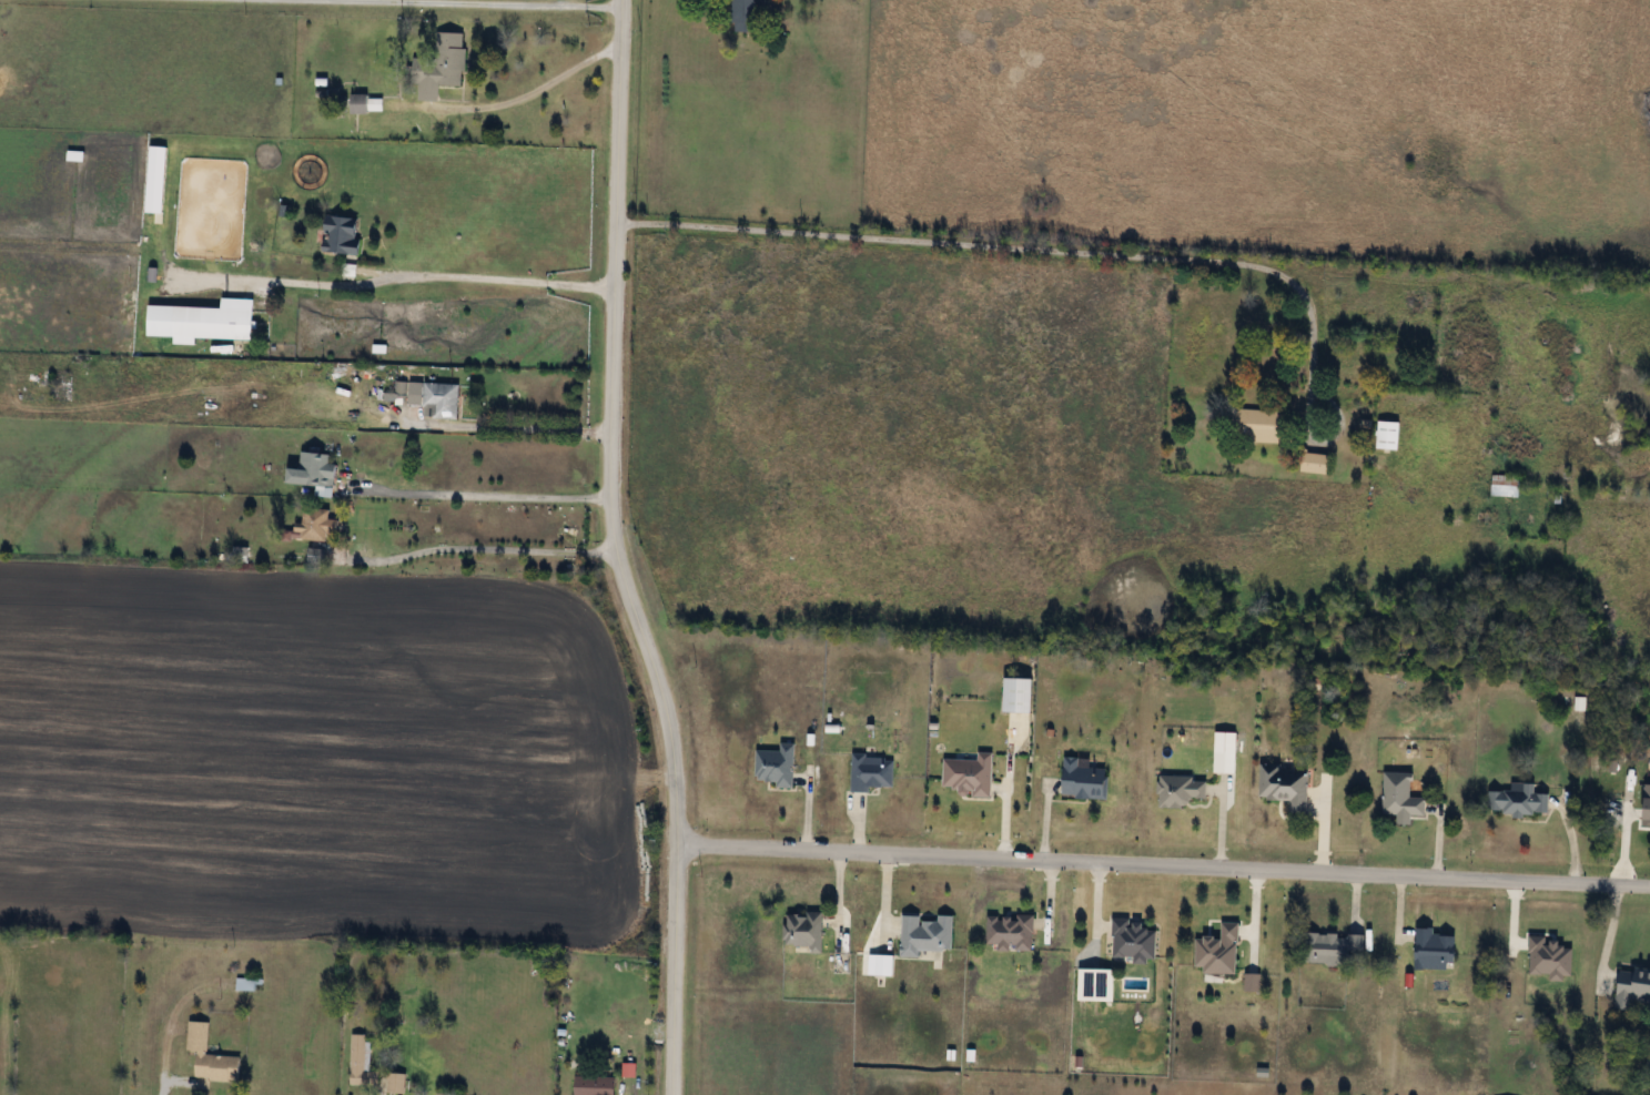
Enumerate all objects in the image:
road: (428, 4)
building: (747, 16)
building: (441, 67)
road: (517, 100)
building: (360, 103)
building: (341, 234)
road: (1021, 250)
road: (393, 282)
building: (212, 322)
building: (429, 397)
building: (1258, 426)
road: (527, 429)
building: (1388, 435)
building: (1315, 463)
building: (313, 470)
building: (1505, 486)
road: (477, 498)
building: (315, 524)
road: (476, 551)
road: (613, 556)
building: (1225, 741)
building: (776, 764)
building: (871, 772)
building: (969, 773)
building: (1084, 780)
building: (1285, 785)
building: (1180, 790)
building: (1400, 797)
building: (1518, 799)
road: (1165, 863)
road: (1398, 926)
building: (803, 930)
building: (1010, 932)
building: (924, 934)
road: (1605, 937)
building: (1134, 941)
building: (1330, 947)
building: (1434, 950)
building: (1217, 951)
building: (1631, 987)
building: (209, 1055)
building: (362, 1062)
building: (396, 1082)
building: (594, 1085)

